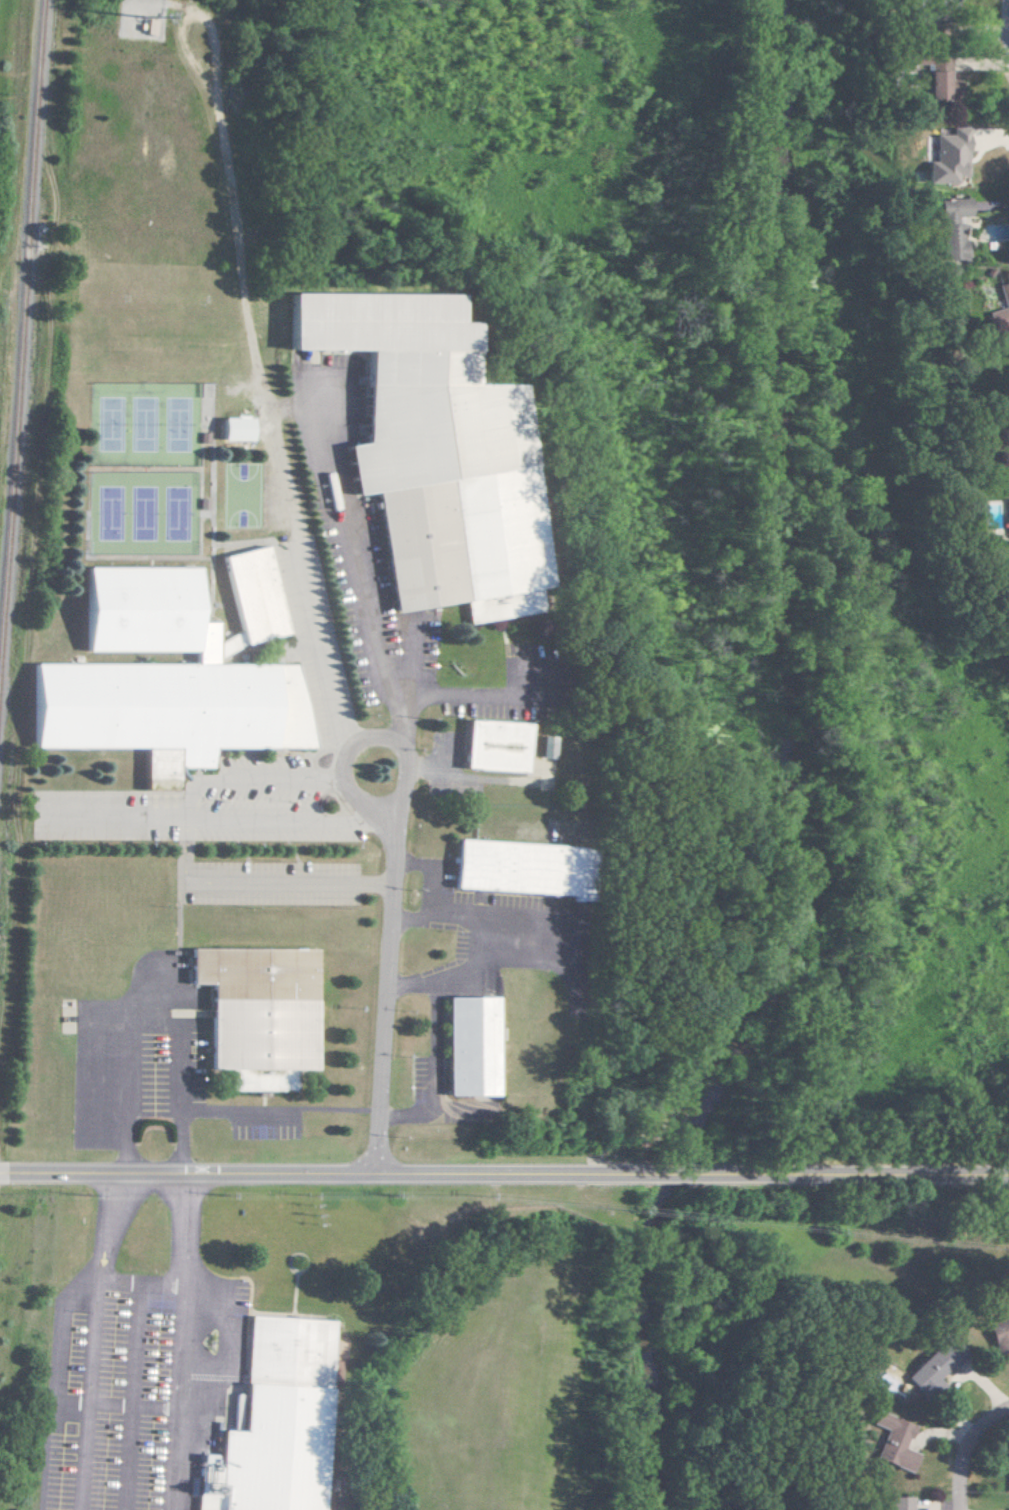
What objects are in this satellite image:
road: (1000, 43)
building: (934, 81)
building: (946, 157)
building: (950, 227)
building: (999, 308)
railway: (22, 322)
building: (1005, 369)
park: (106, 425)
park: (140, 425)
park: (173, 425)
building: (231, 428)
building: (423, 460)
park: (173, 513)
park: (106, 514)
park: (140, 514)
building: (1004, 517)
building: (251, 595)
road: (364, 604)
building: (160, 682)
road: (404, 731)
building: (492, 746)
building: (542, 746)
road: (215, 819)
building: (518, 868)
road: (426, 875)
road: (253, 882)
road: (476, 924)
road: (386, 972)
building: (257, 1013)
building: (468, 1045)
road: (432, 1048)
road: (857, 1173)
road: (668, 1174)
road: (315, 1175)
road: (102, 1226)
road: (186, 1230)
building: (996, 1333)
building: (931, 1366)
road: (86, 1394)
road: (178, 1397)
road: (132, 1404)
building: (263, 1413)
building: (890, 1442)
road: (965, 1449)
building: (1006, 1473)
building: (896, 1503)
building: (1006, 1508)

